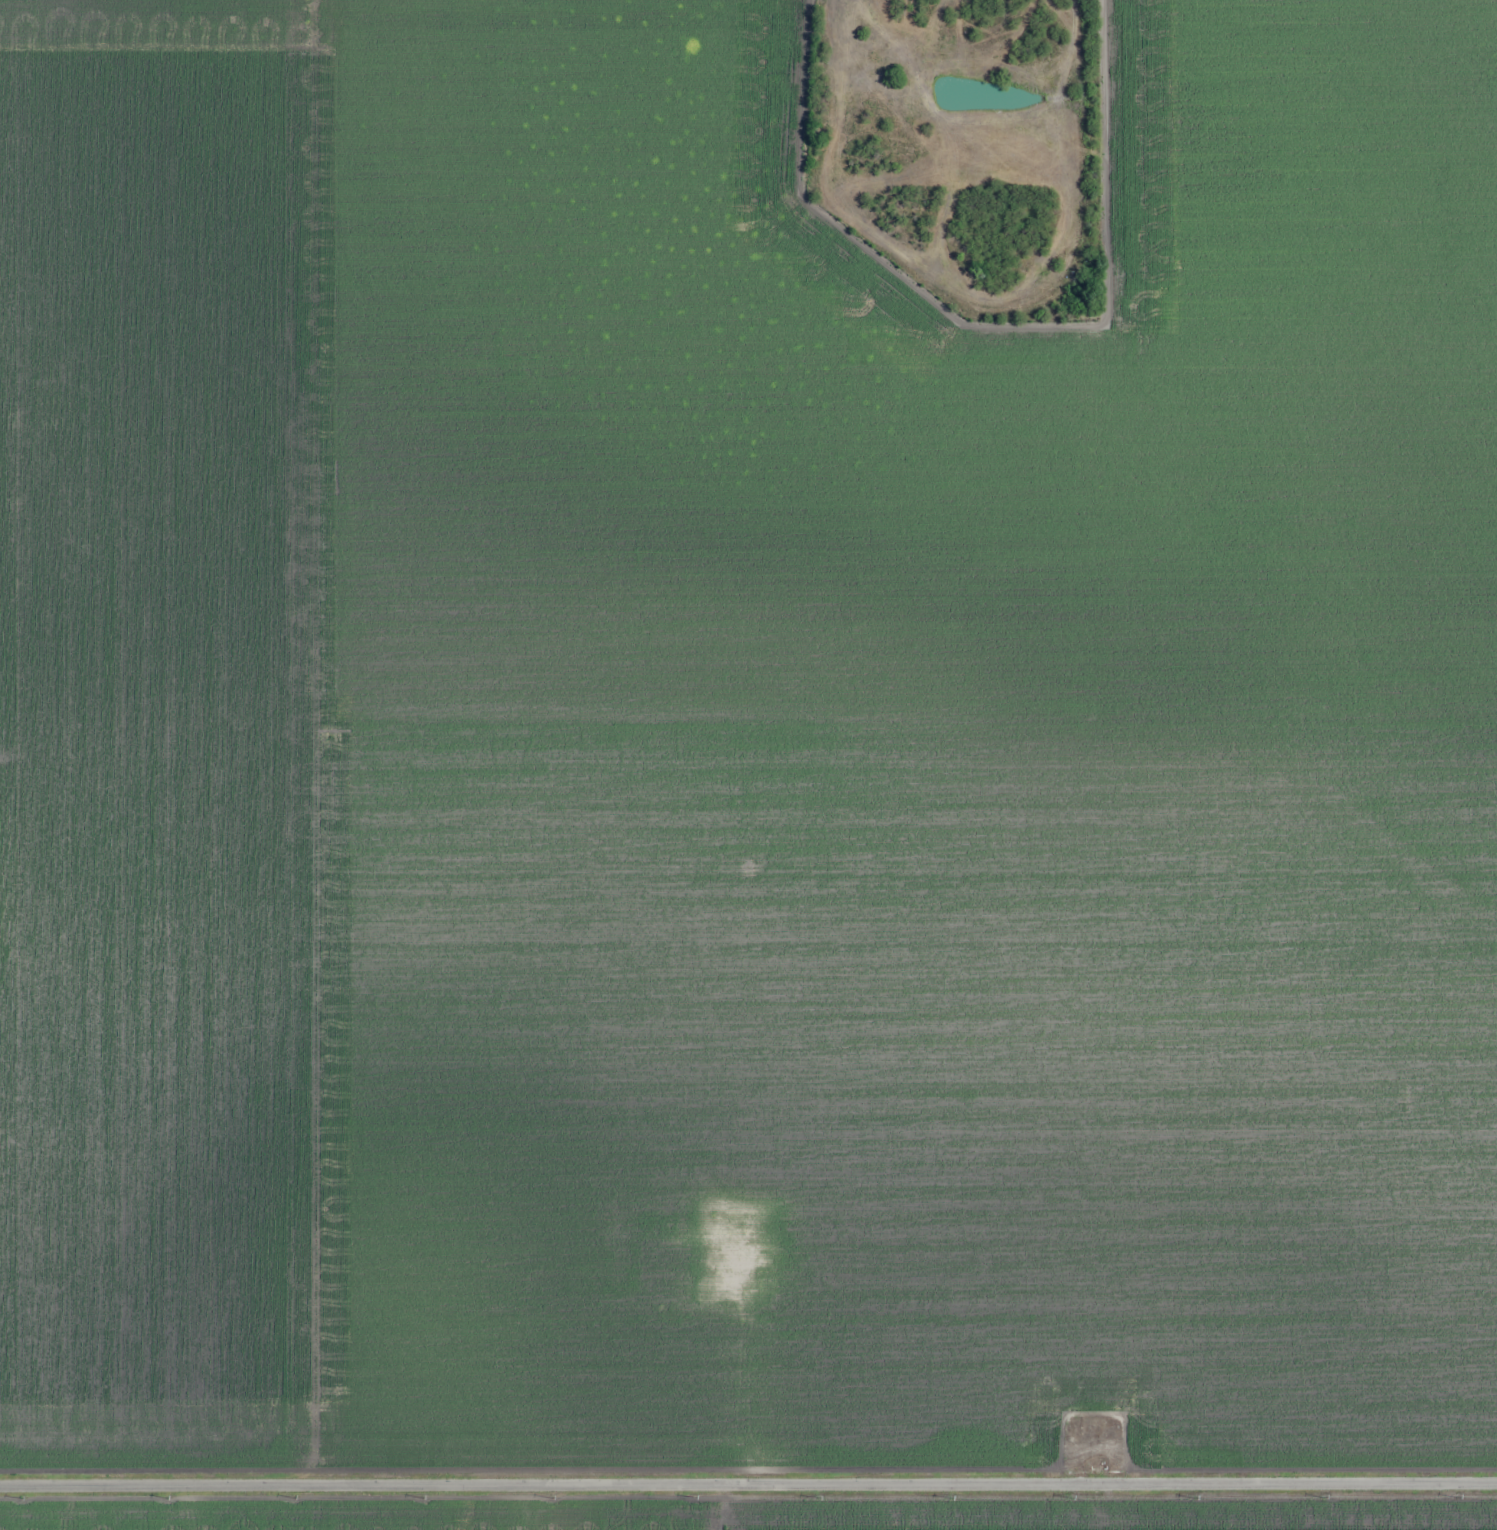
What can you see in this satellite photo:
road: (748, 1488)

